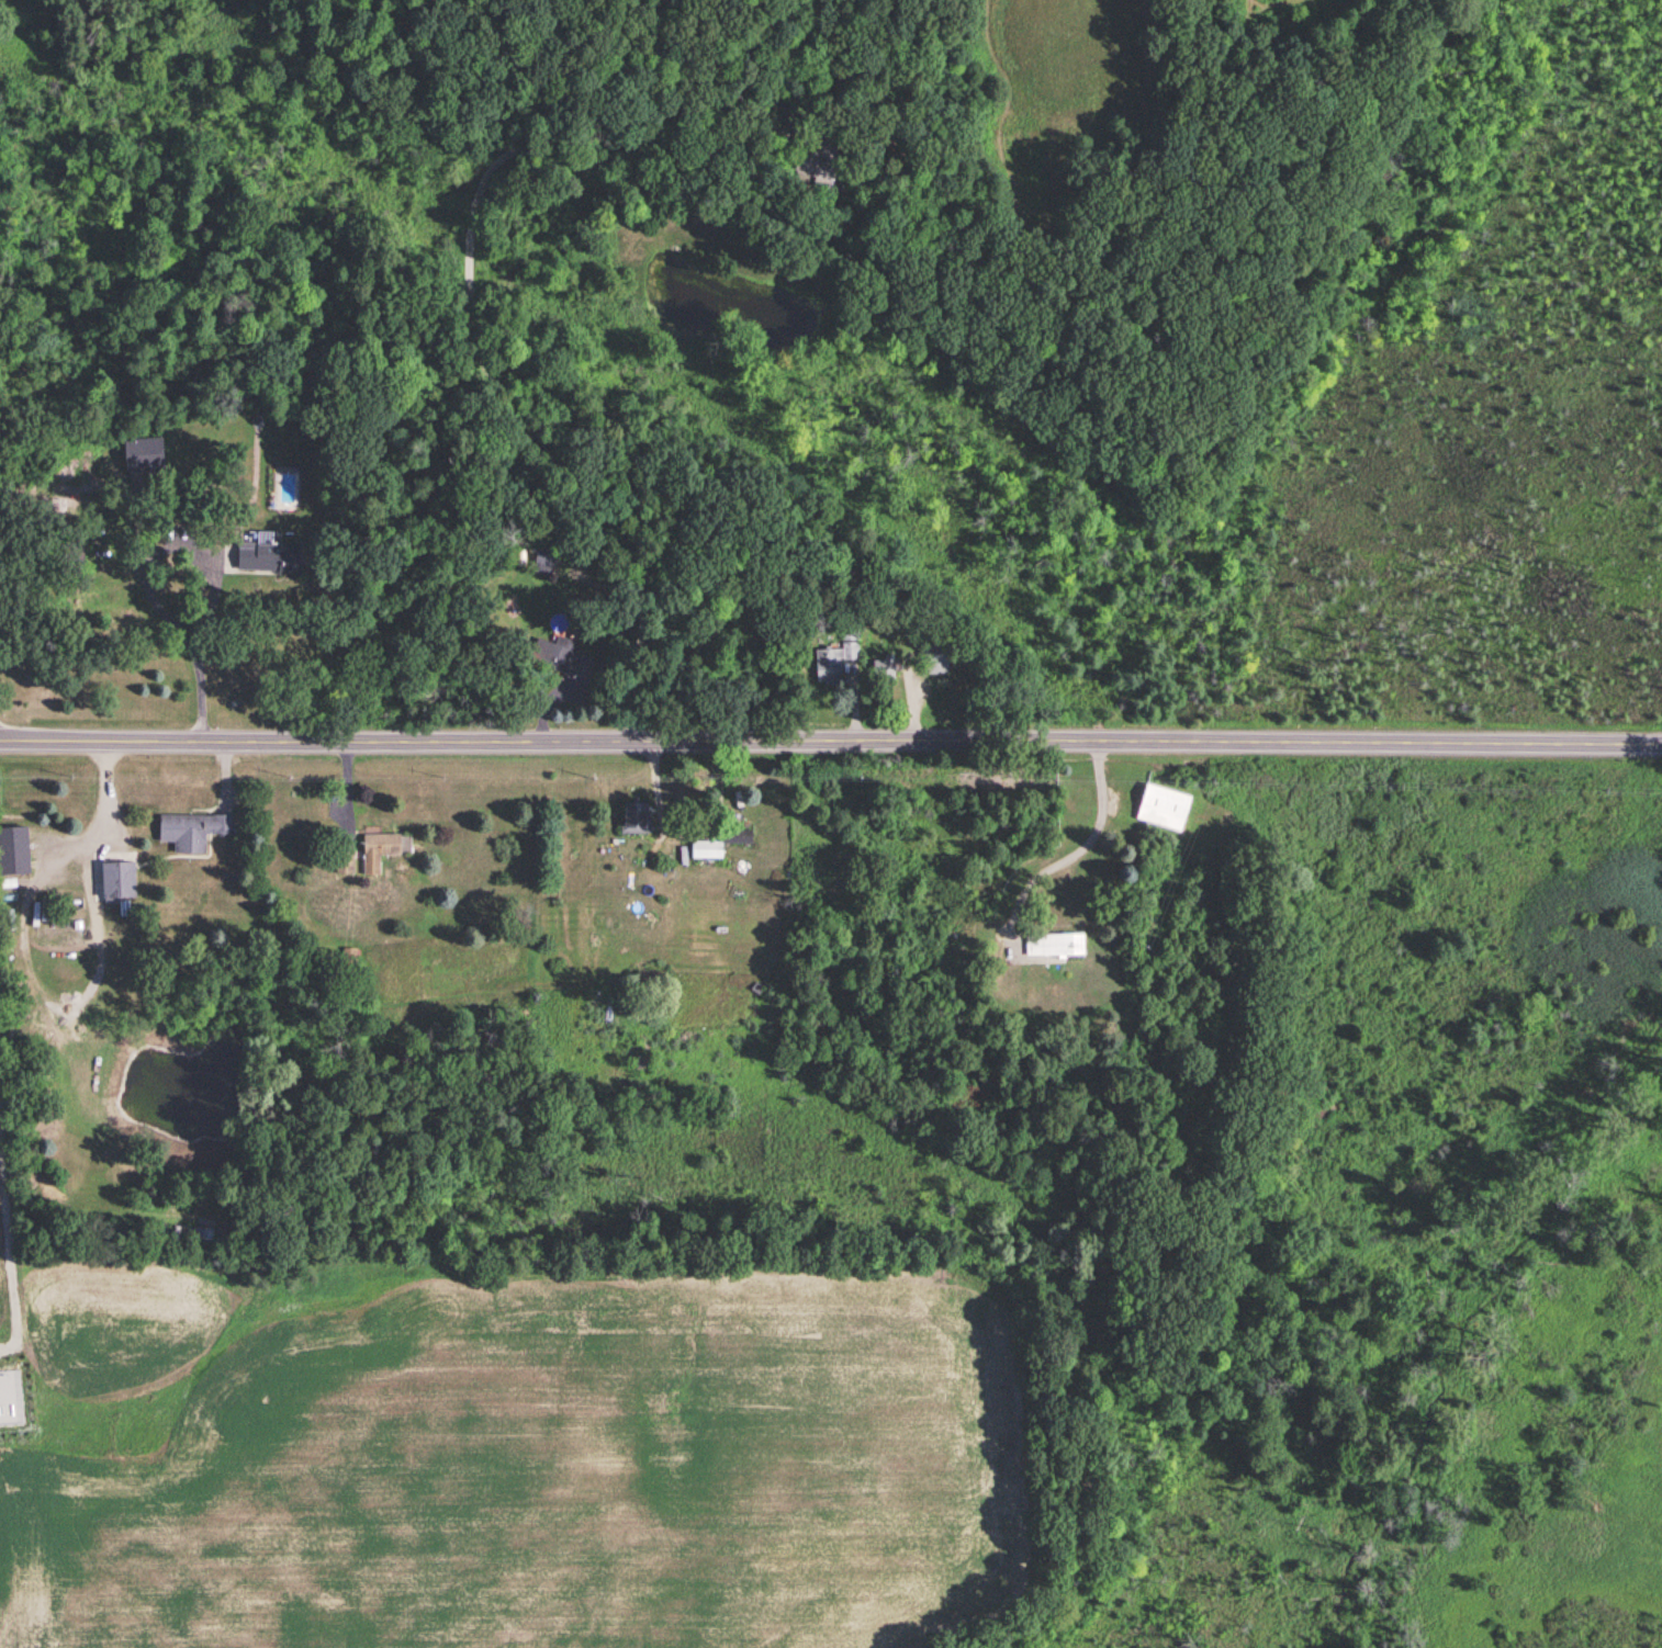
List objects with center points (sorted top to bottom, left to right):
road: (475, 343)
building: (143, 451)
building: (269, 554)
building: (542, 557)
road: (139, 564)
building: (561, 656)
building: (933, 658)
building: (832, 659)
building: (883, 665)
road: (831, 741)
building: (1161, 804)
building: (633, 815)
building: (191, 827)
road: (1077, 846)
building: (382, 847)
building: (706, 847)
building: (13, 848)
building: (116, 879)
building: (1052, 945)
crop: (2, 1008)
crop: (538, 1445)
crop: (26, 1559)

